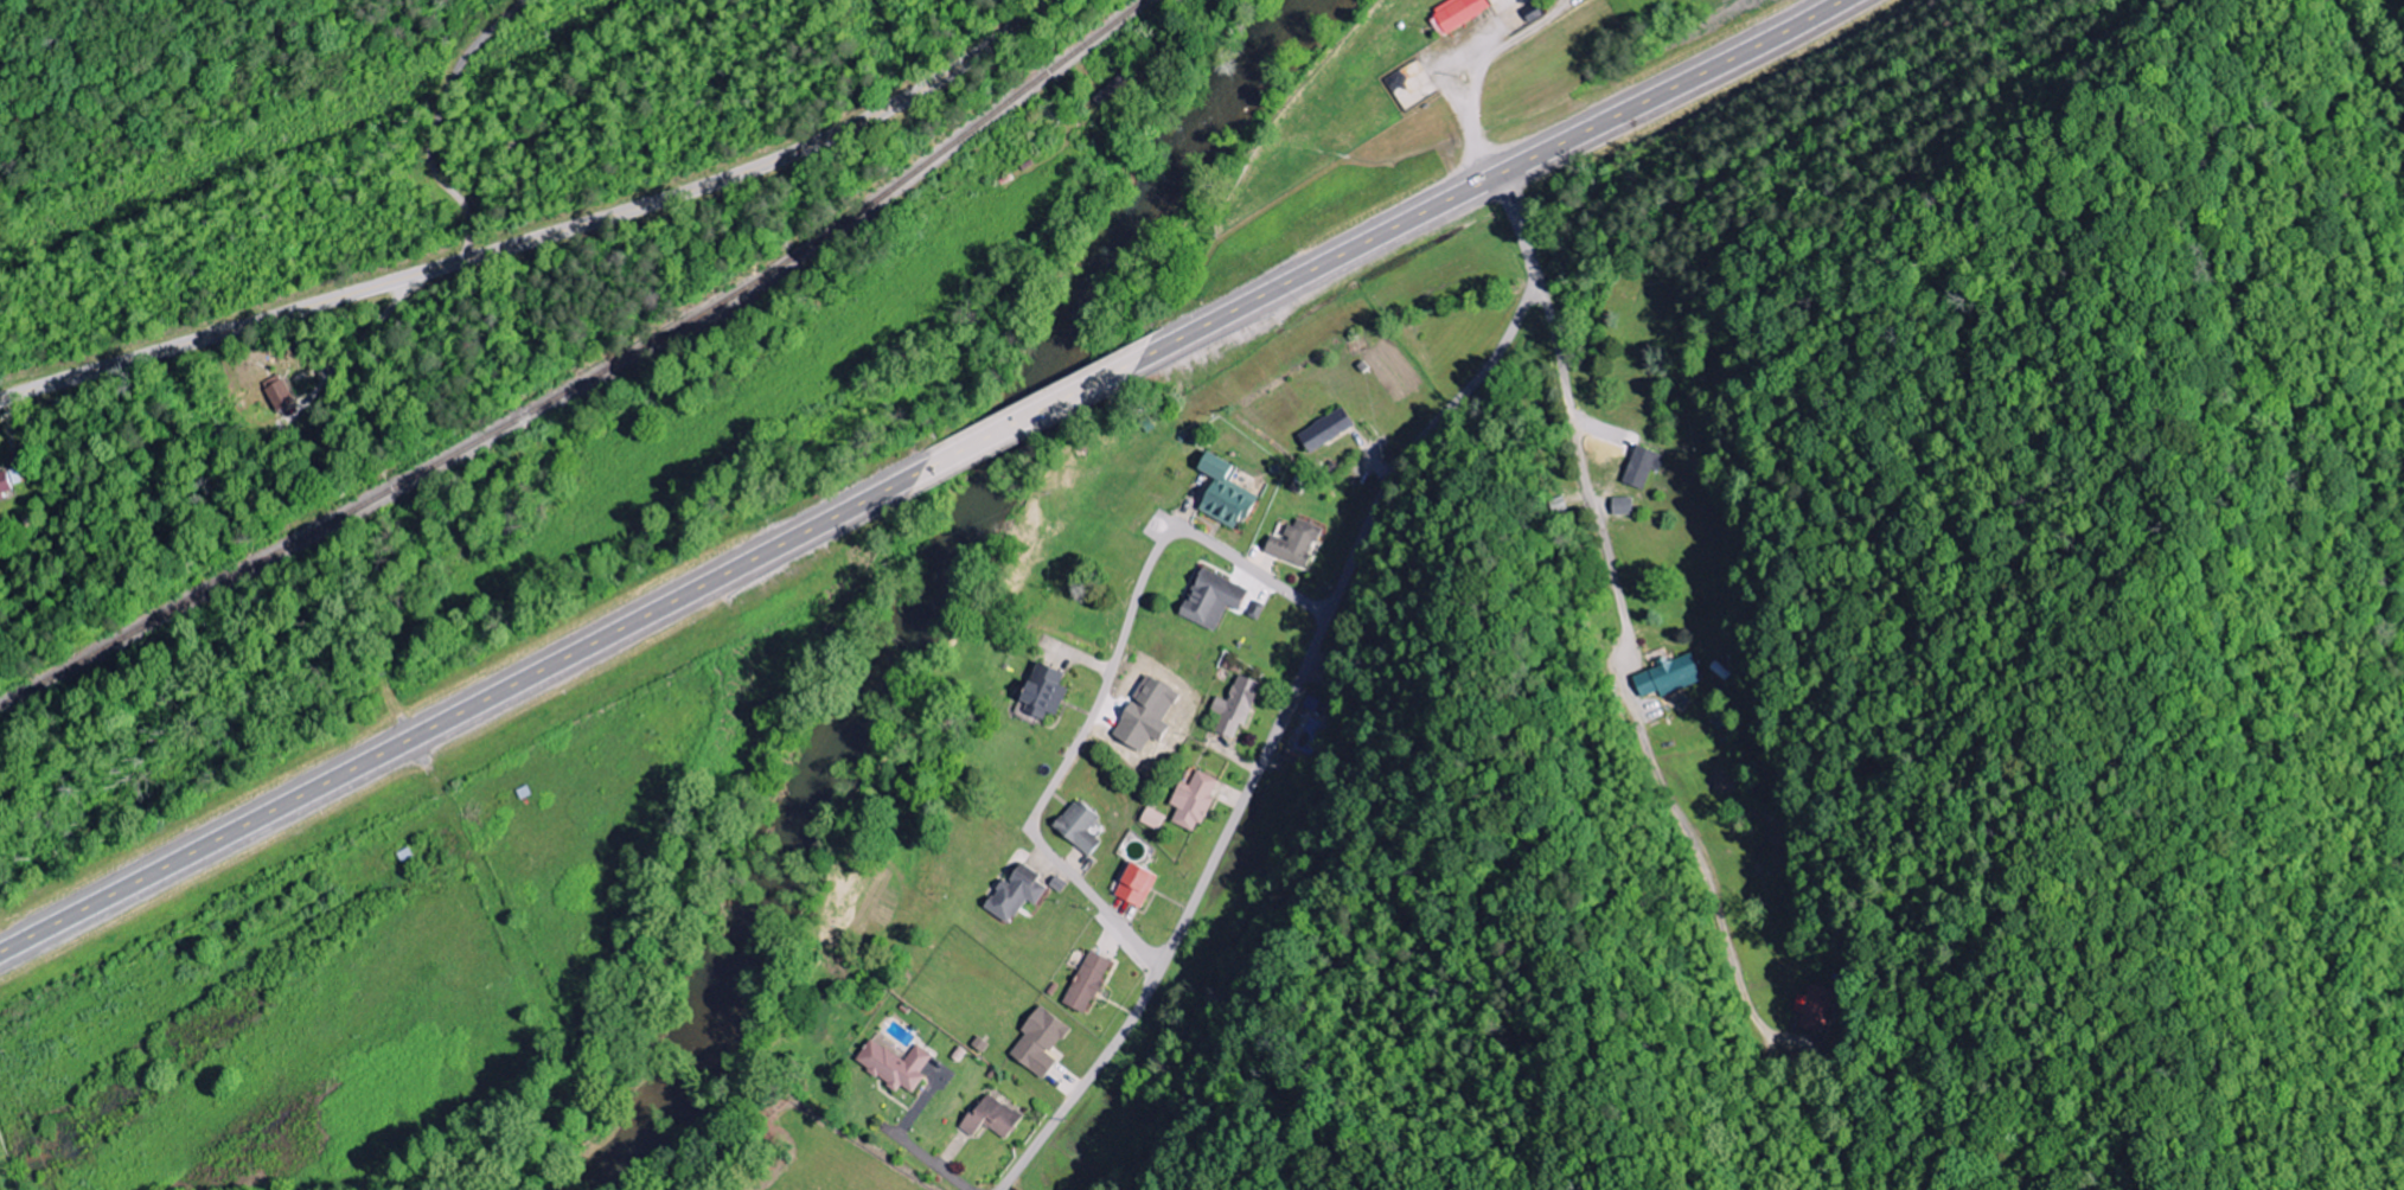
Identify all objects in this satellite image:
building: (1456, 14)
road: (1472, 116)
road: (1489, 178)
road: (542, 236)
railway: (588, 378)
building: (279, 392)
road: (1036, 412)
building: (1325, 430)
building: (1643, 466)
building: (6, 482)
building: (1227, 493)
building: (1623, 506)
building: (1294, 543)
river: (919, 580)
building: (1214, 600)
road: (1642, 641)
building: (1670, 677)
road: (1294, 685)
road: (1104, 687)
building: (1046, 692)
building: (1235, 708)
road: (465, 710)
building: (1147, 715)
building: (1194, 801)
building: (1153, 819)
building: (1080, 826)
building: (1137, 885)
building: (1017, 894)
building: (1089, 983)
building: (1812, 1006)
building: (1041, 1042)
building: (895, 1066)
building: (992, 1118)
road: (929, 1159)

